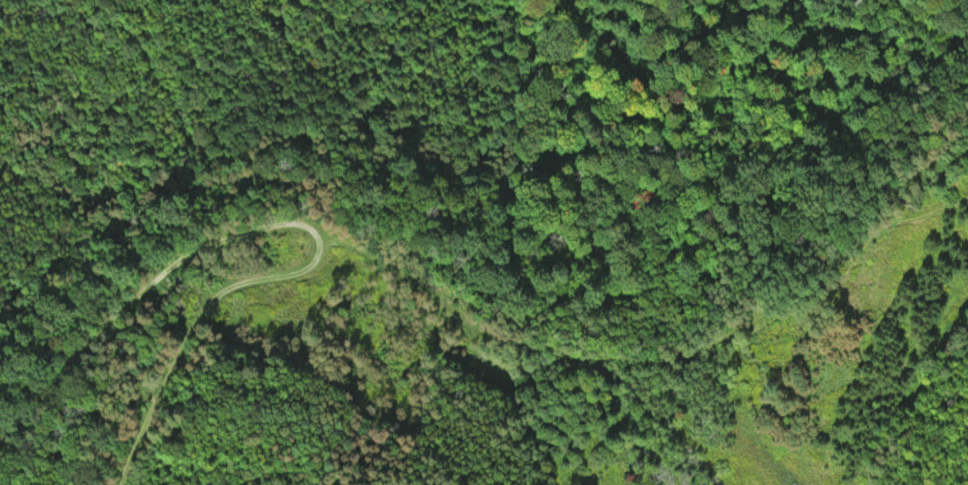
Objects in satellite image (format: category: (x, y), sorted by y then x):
road: (192, 252)
road: (522, 359)

